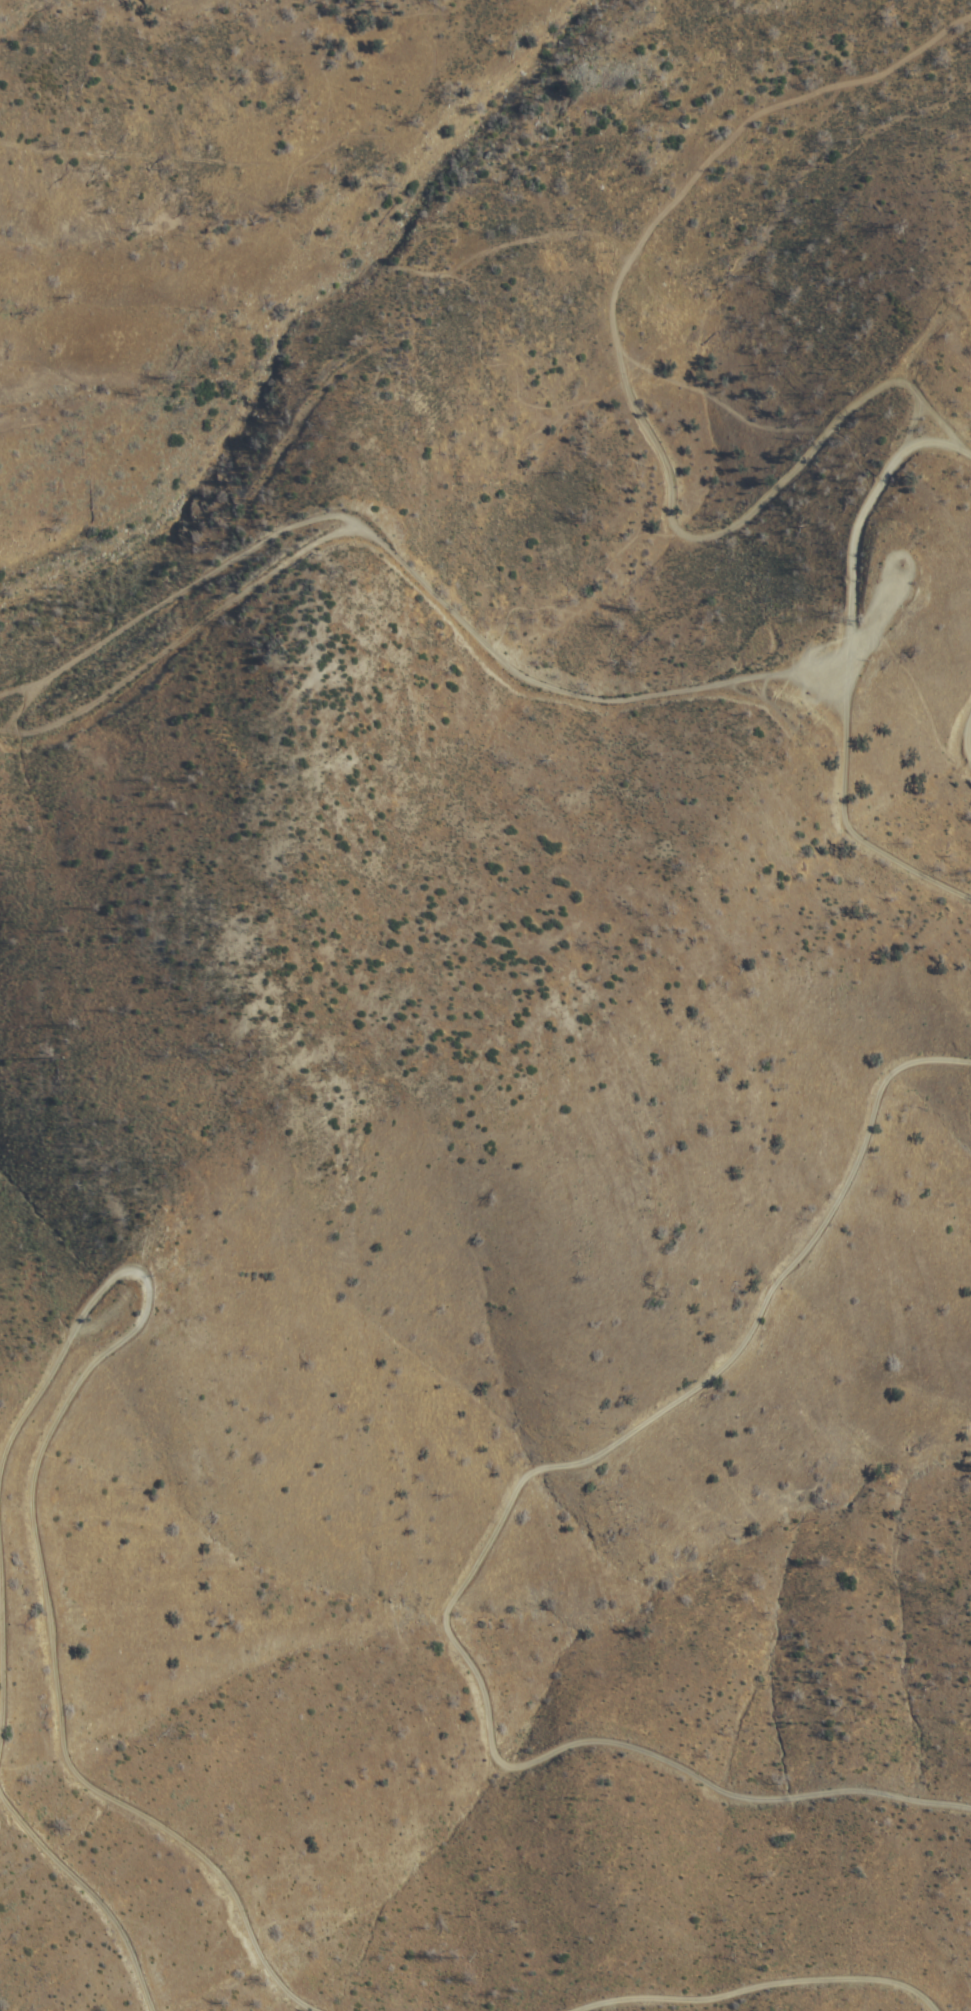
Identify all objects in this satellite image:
road: (414, 580)
road: (850, 670)
road: (968, 737)
road: (63, 1416)
road: (490, 1542)
road: (86, 1889)
road: (757, 1988)

